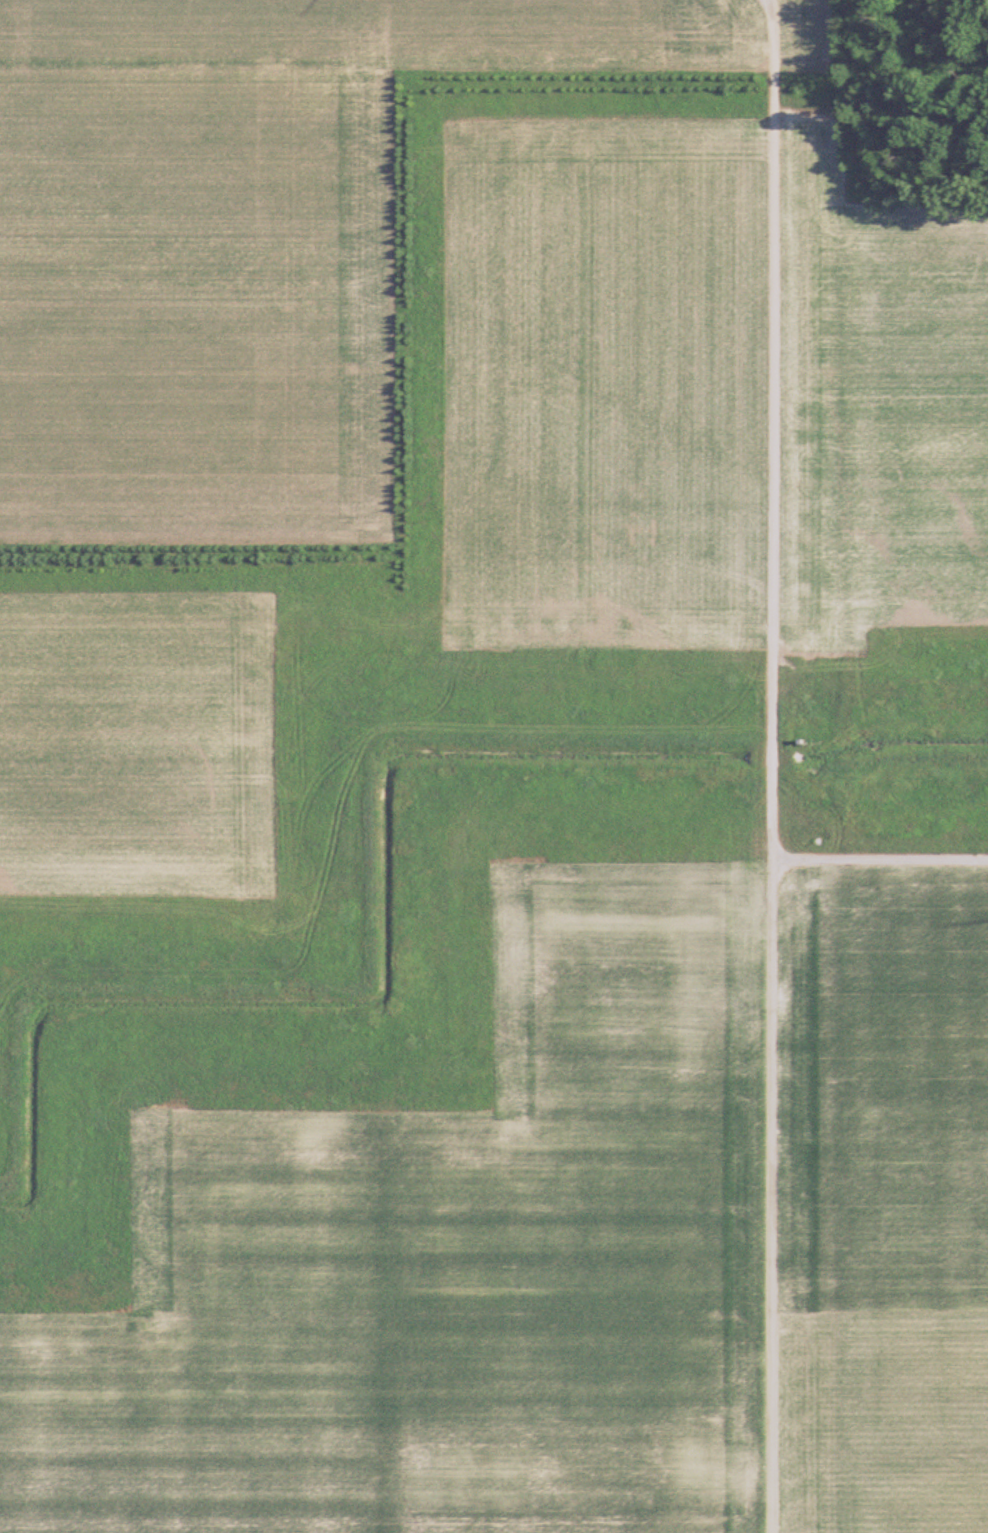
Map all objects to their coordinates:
road: (753, 781)
road: (870, 865)

